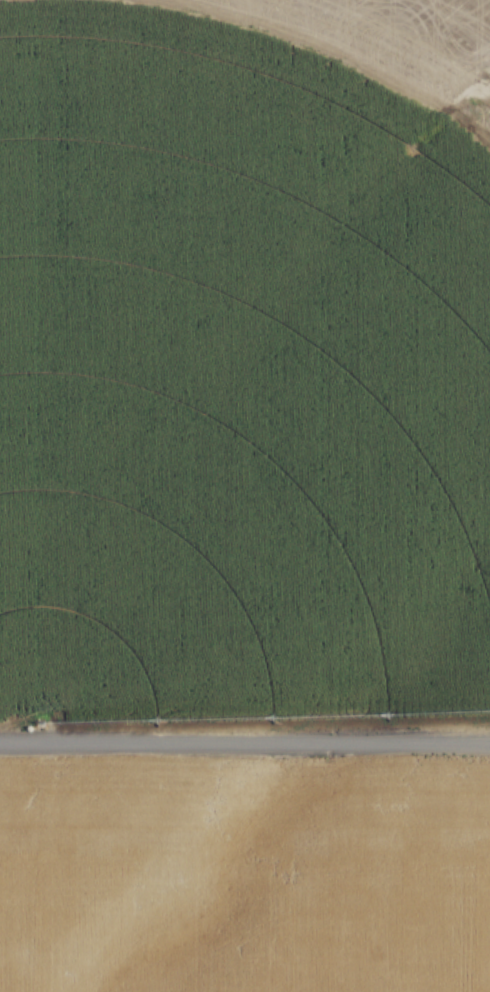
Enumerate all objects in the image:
road: (245, 746)

